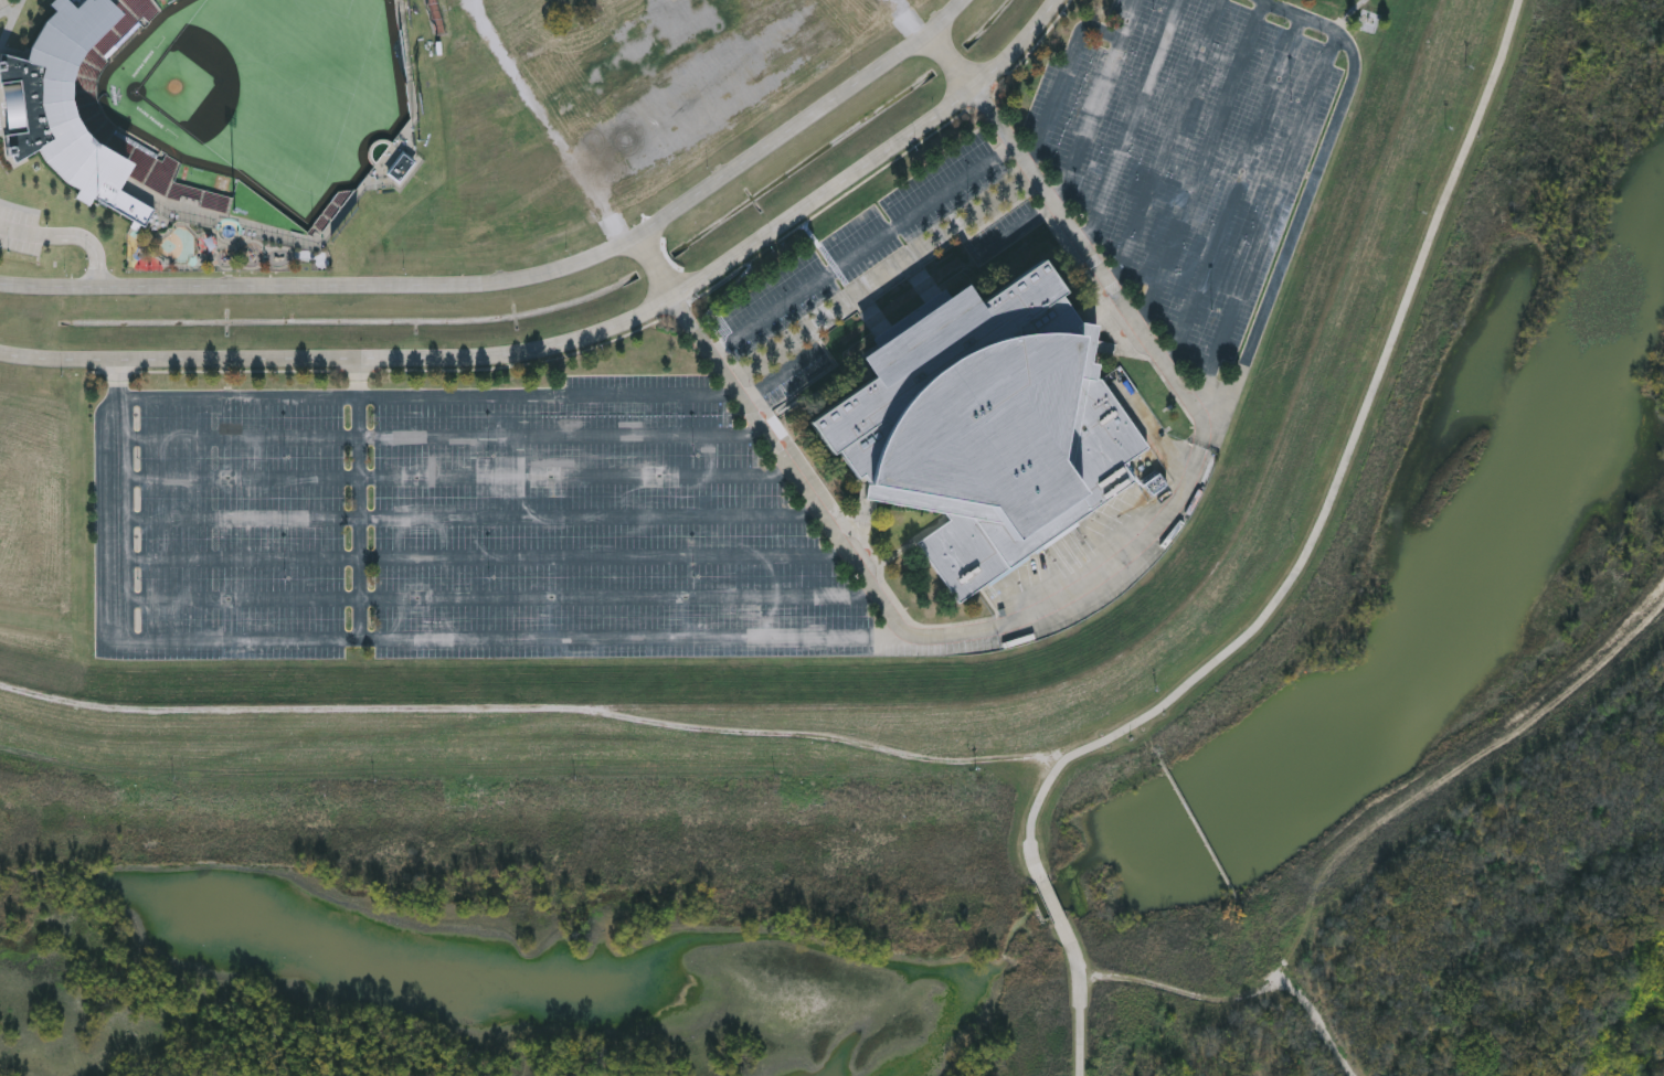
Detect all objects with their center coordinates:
parking lot: (3, 3)
road: (905, 20)
road: (4, 36)
road: (1063, 81)
park: (193, 84)
building: (74, 95)
road: (1098, 103)
stadium: (219, 119)
road: (547, 121)
road: (1132, 122)
road: (1167, 142)
parking lot: (1191, 155)
road: (1202, 166)
road: (1236, 192)
road: (1270, 212)
parking lot: (20, 230)
road: (1014, 230)
road: (19, 231)
parking lot: (1004, 232)
road: (86, 241)
parking lot: (860, 246)
road: (865, 252)
road: (523, 276)
road: (583, 337)
road: (513, 366)
road: (237, 371)
road: (783, 374)
parking lot: (798, 381)
parking lot: (637, 382)
road: (1218, 392)
road: (428, 397)
parking lot: (554, 416)
parking lot: (282, 417)
parking lot: (176, 418)
building: (984, 428)
road: (562, 437)
road: (233, 438)
parking lot: (564, 456)
parking lot: (282, 457)
parking lot: (177, 458)
road: (575, 476)
road: (233, 478)
parking lot: (581, 497)
parking lot: (177, 499)
parking lot: (282, 499)
road: (359, 499)
road: (590, 518)
road: (234, 520)
parking lot: (595, 537)
parking lot: (177, 539)
parking lot: (282, 539)
road: (604, 557)
road: (234, 560)
parking lot: (282, 578)
parking lot: (612, 578)
road: (1291, 578)
parking lot: (177, 579)
road: (617, 597)
road: (235, 598)
road: (888, 610)
parking lot: (623, 618)
parking lot: (178, 619)
parking lot: (283, 619)
road: (370, 640)
parking lot: (685, 651)
parking lot: (220, 653)
road: (1380, 857)

